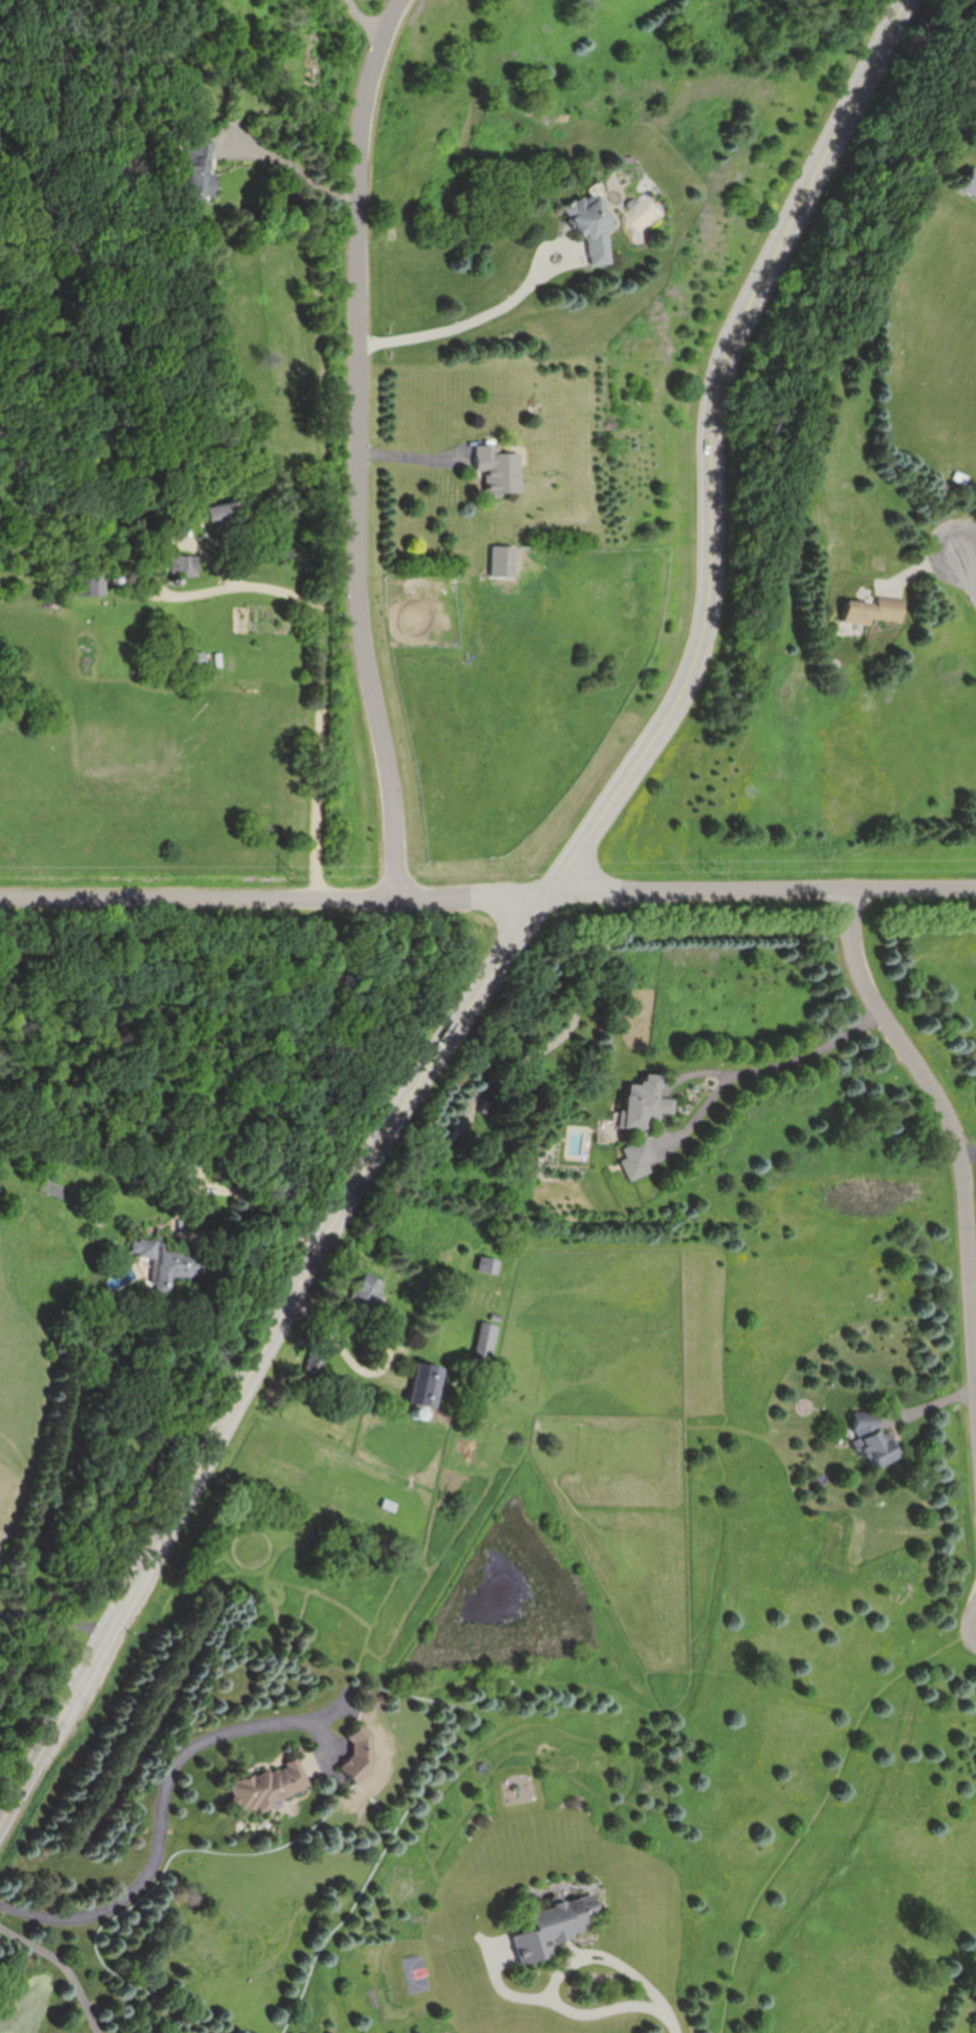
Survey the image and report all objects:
road: (368, 19)
building: (195, 167)
road: (296, 170)
building: (966, 187)
building: (587, 227)
road: (503, 306)
road: (365, 445)
road: (708, 447)
road: (418, 459)
building: (496, 469)
building: (223, 515)
road: (969, 536)
road: (969, 557)
building: (502, 562)
building: (184, 565)
building: (81, 580)
building: (868, 611)
building: (193, 659)
road: (326, 668)
power tower: (717, 871)
power tower: (302, 875)
road: (761, 886)
road: (274, 898)
road: (780, 1067)
building: (643, 1104)
road: (952, 1118)
road: (969, 1152)
building: (637, 1158)
road: (255, 1226)
building: (170, 1263)
building: (490, 1265)
building: (371, 1288)
building: (487, 1341)
road: (381, 1343)
road: (262, 1355)
building: (426, 1382)
building: (472, 1405)
road: (56, 1621)
building: (358, 1756)
building: (268, 1785)
road: (164, 1802)
building: (557, 1926)
road: (64, 1966)
road: (559, 1978)
road: (673, 2015)

